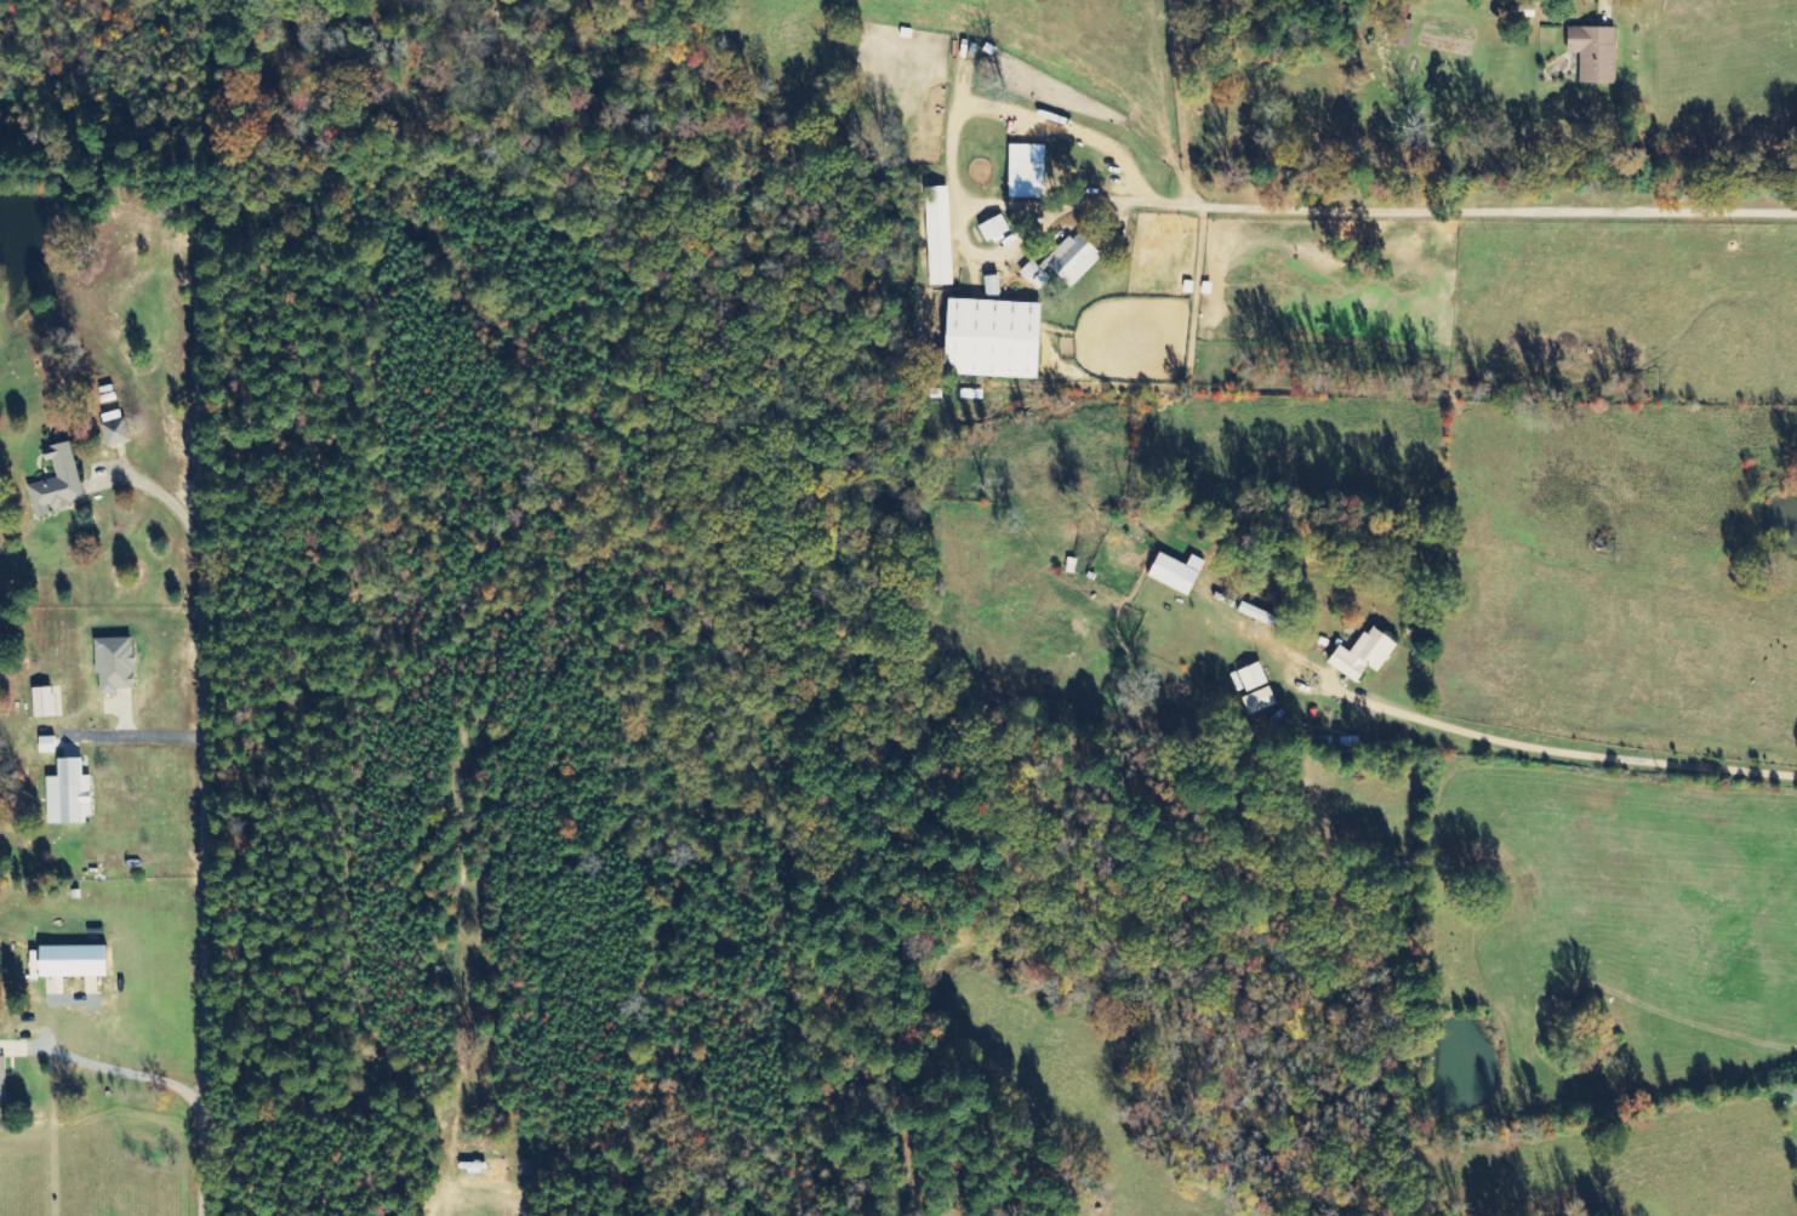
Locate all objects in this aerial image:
building: (1400, 32)
road: (1682, 44)
building: (1595, 53)
building: (1027, 171)
building: (993, 228)
building: (937, 236)
building: (1066, 262)
building: (992, 285)
building: (996, 338)
road: (1562, 382)
building: (970, 394)
building: (115, 428)
building: (58, 481)
building: (1177, 573)
road: (1253, 581)
building: (1257, 615)
building: (1364, 655)
building: (116, 664)
building: (1253, 678)
building: (1260, 701)
building: (45, 702)
building: (70, 794)

